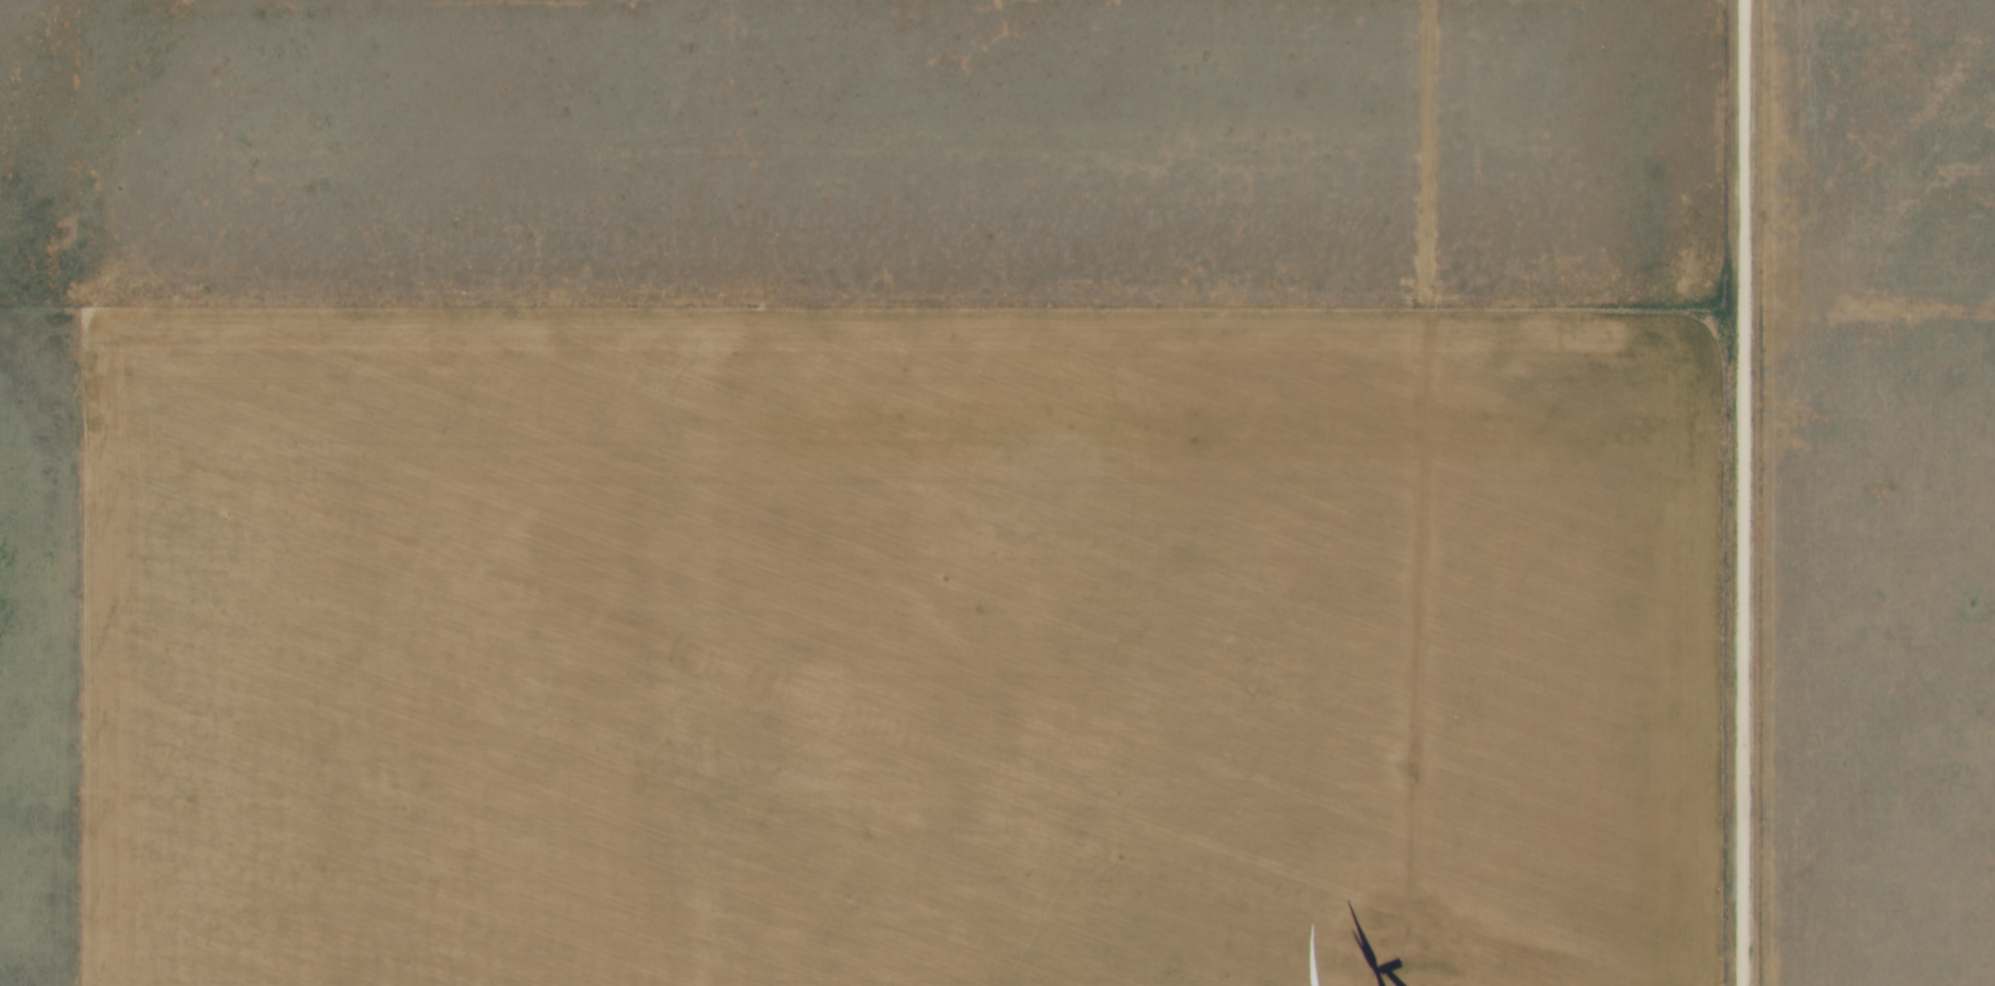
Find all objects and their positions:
road: (1744, 492)

